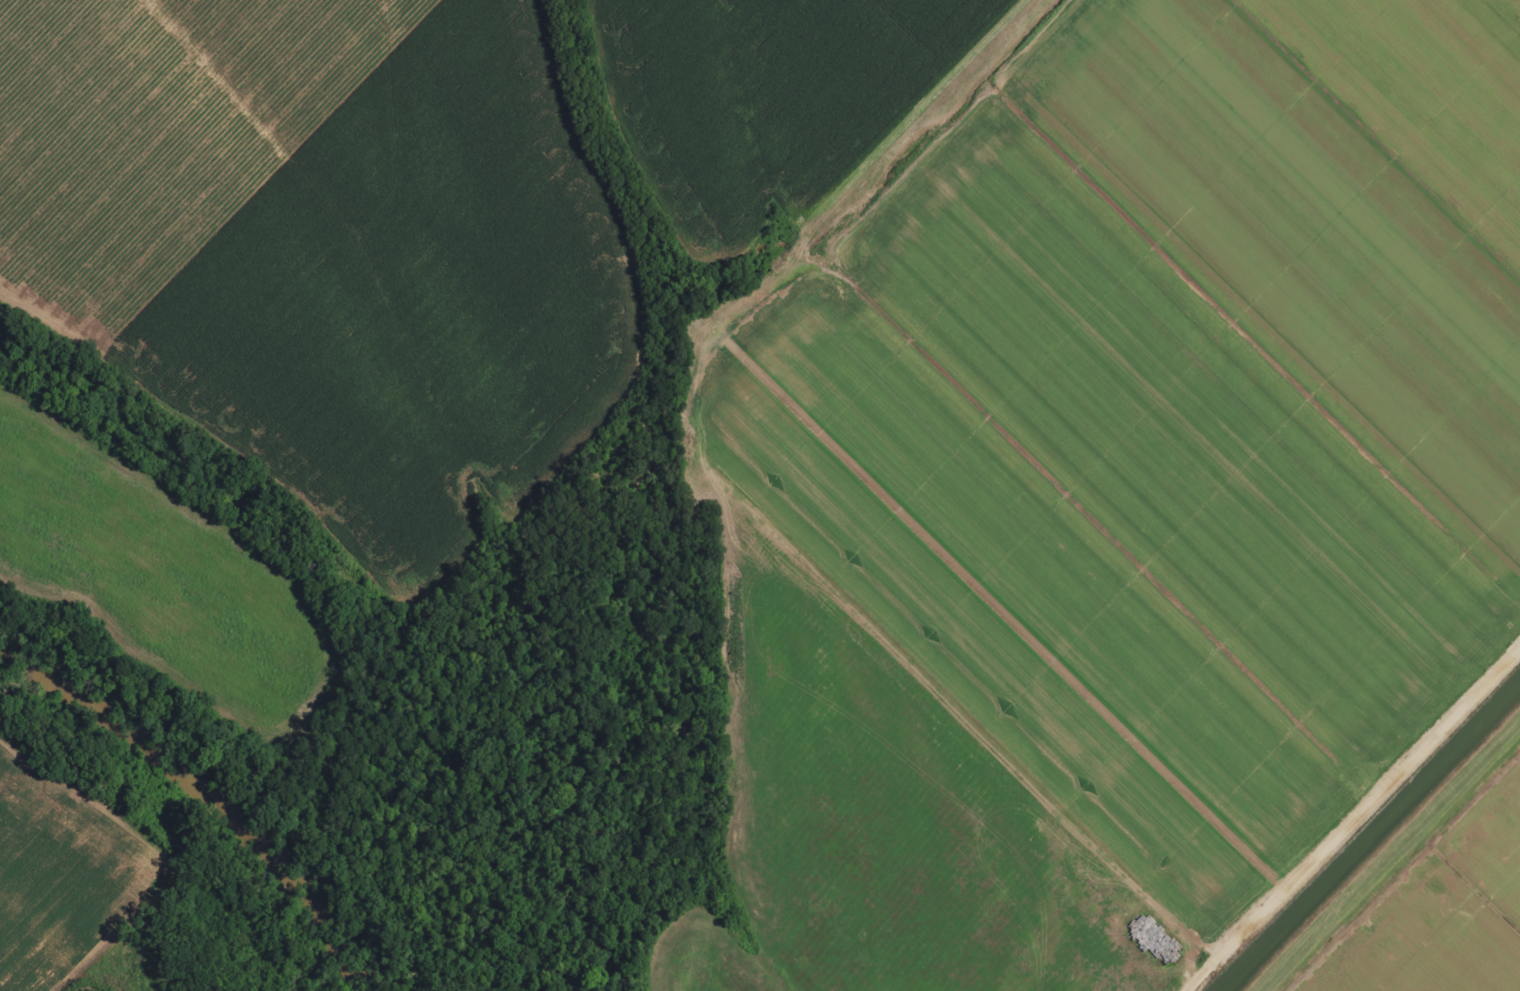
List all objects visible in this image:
road: (1356, 821)

